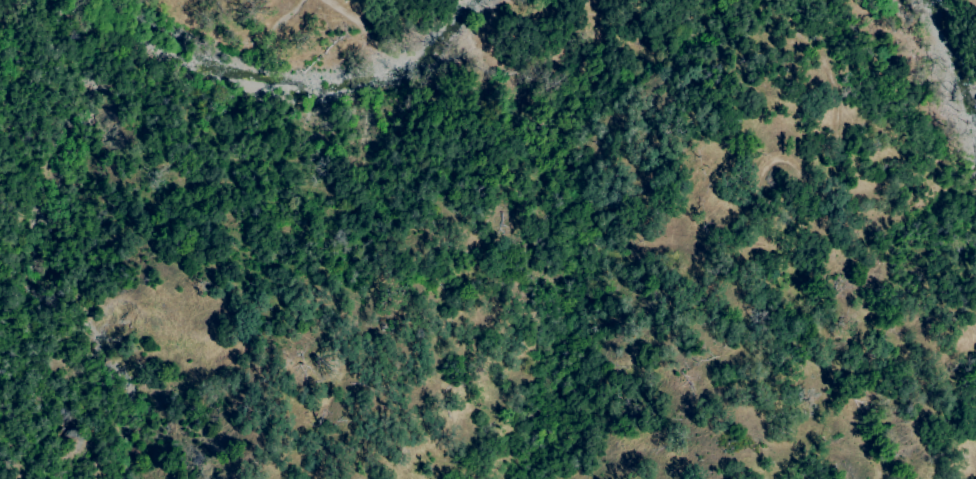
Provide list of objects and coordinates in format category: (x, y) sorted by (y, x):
river: (249, 54)
river: (915, 99)

